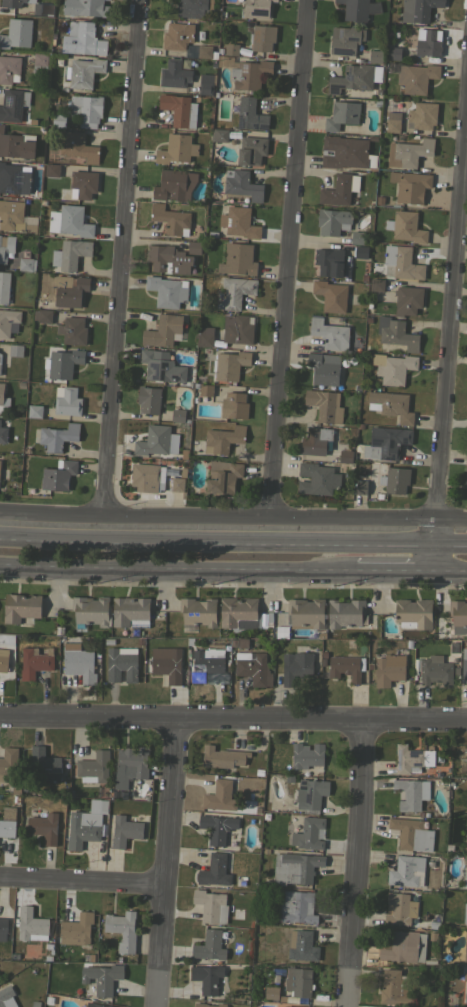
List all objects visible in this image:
building: (14, 3)
building: (85, 7)
building: (42, 8)
building: (191, 8)
building: (257, 8)
building: (354, 9)
building: (418, 9)
building: (17, 33)
building: (177, 35)
building: (263, 37)
building: (86, 38)
rooftop solar panel: (350, 38)
building: (345, 39)
building: (60, 43)
building: (428, 43)
building: (220, 49)
building: (231, 49)
rooftop solar panel: (341, 50)
building: (202, 51)
building: (393, 52)
building: (375, 56)
building: (224, 61)
building: (40, 63)
building: (9, 69)
building: (83, 71)
building: (250, 73)
building: (174, 74)
rooftop solar panel: (348, 74)
building: (355, 77)
building: (415, 78)
building: (205, 84)
rooftop solar panel: (334, 87)
building: (216, 94)
building: (13, 104)
building: (85, 109)
building: (177, 109)
building: (250, 114)
building: (341, 114)
building: (422, 114)
building: (58, 119)
building: (396, 123)
building: (219, 134)
building: (16, 144)
building: (77, 146)
building: (176, 148)
building: (251, 150)
building: (344, 152)
building: (409, 152)
building: (52, 170)
building: (14, 178)
rooftop solar panel: (18, 179)
building: (83, 184)
building: (242, 184)
building: (174, 185)
building: (410, 186)
building: (339, 189)
rooftop solar panel: (9, 190)
building: (379, 199)
building: (42, 201)
building: (16, 217)
building: (171, 219)
building: (71, 220)
building: (333, 221)
building: (238, 222)
building: (405, 226)
building: (211, 234)
building: (357, 237)
building: (6, 246)
building: (194, 247)
building: (360, 251)
building: (70, 253)
road: (122, 258)
building: (169, 259)
building: (237, 259)
road: (290, 259)
building: (329, 262)
building: (401, 262)
building: (25, 264)
building: (377, 284)
building: (4, 287)
building: (70, 290)
building: (167, 291)
building: (234, 292)
building: (331, 295)
building: (407, 300)
building: (139, 302)
building: (42, 315)
building: (369, 318)
building: (8, 322)
road: (452, 322)
building: (237, 328)
building: (73, 330)
building: (163, 330)
building: (396, 333)
building: (330, 334)
building: (204, 336)
building: (15, 350)
building: (0, 360)
building: (62, 363)
building: (229, 365)
building: (161, 366)
building: (393, 367)
building: (324, 368)
building: (195, 385)
building: (205, 390)
building: (1, 395)
building: (149, 399)
building: (66, 400)
building: (234, 405)
building: (325, 405)
building: (391, 405)
building: (466, 409)
building: (34, 411)
building: (178, 415)
building: (3, 434)
rooftop solar panel: (327, 435)
building: (58, 436)
building: (223, 439)
building: (153, 440)
building: (315, 440)
building: (386, 442)
rooftop solar panel: (370, 452)
building: (345, 456)
building: (466, 456)
building: (182, 471)
building: (58, 475)
building: (223, 476)
building: (145, 477)
building: (465, 477)
building: (317, 479)
building: (397, 479)
rooftop solar panel: (383, 480)
building: (177, 485)
building: (361, 487)
building: (378, 496)
road: (218, 517)
road: (452, 518)
road: (437, 532)
road: (217, 544)
road: (451, 546)
road: (435, 557)
road: (395, 567)
road: (177, 568)
road: (451, 568)
building: (21, 606)
building: (89, 611)
building: (130, 611)
building: (198, 611)
building: (346, 612)
building: (414, 612)
building: (239, 613)
building: (305, 613)
building: (458, 616)
building: (3, 659)
building: (34, 662)
building: (207, 662)
building: (78, 663)
building: (121, 663)
building: (166, 663)
building: (464, 665)
building: (296, 666)
building: (252, 667)
building: (346, 667)
building: (389, 669)
building: (435, 670)
road: (233, 718)
building: (306, 755)
building: (222, 757)
building: (412, 759)
building: (131, 763)
building: (8, 764)
building: (44, 765)
building: (93, 767)
building: (310, 793)
building: (411, 793)
building: (220, 796)
building: (44, 827)
building: (217, 827)
building: (7, 828)
building: (83, 828)
building: (126, 829)
building: (310, 833)
building: (411, 834)
building: (466, 841)
road: (165, 845)
road: (354, 863)
building: (296, 867)
building: (214, 870)
building: (407, 871)
road: (80, 881)
building: (465, 881)
building: (211, 906)
building: (296, 907)
building: (400, 908)
building: (465, 913)
building: (31, 925)
building: (3, 928)
building: (76, 929)
building: (122, 929)
building: (209, 945)
building: (302, 945)
building: (405, 946)
building: (465, 948)
building: (207, 977)
building: (102, 978)
building: (298, 982)
building: (394, 988)
road: (156, 990)
building: (465, 992)
building: (271, 993)
building: (6, 996)
building: (97, 1005)
building: (209, 1005)
building: (291, 1006)

